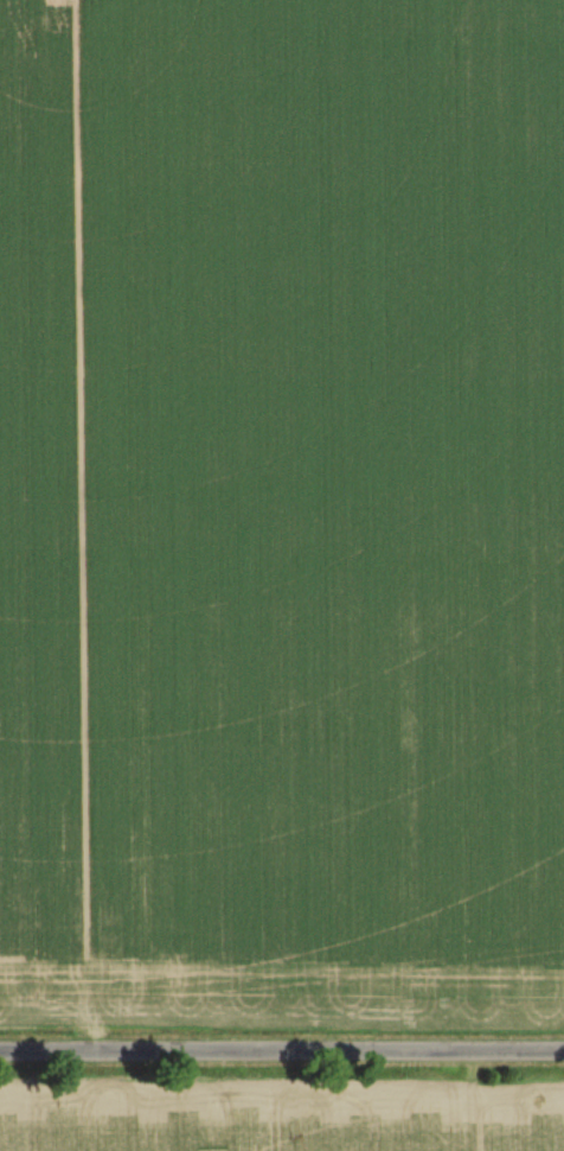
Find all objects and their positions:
road: (282, 1068)

